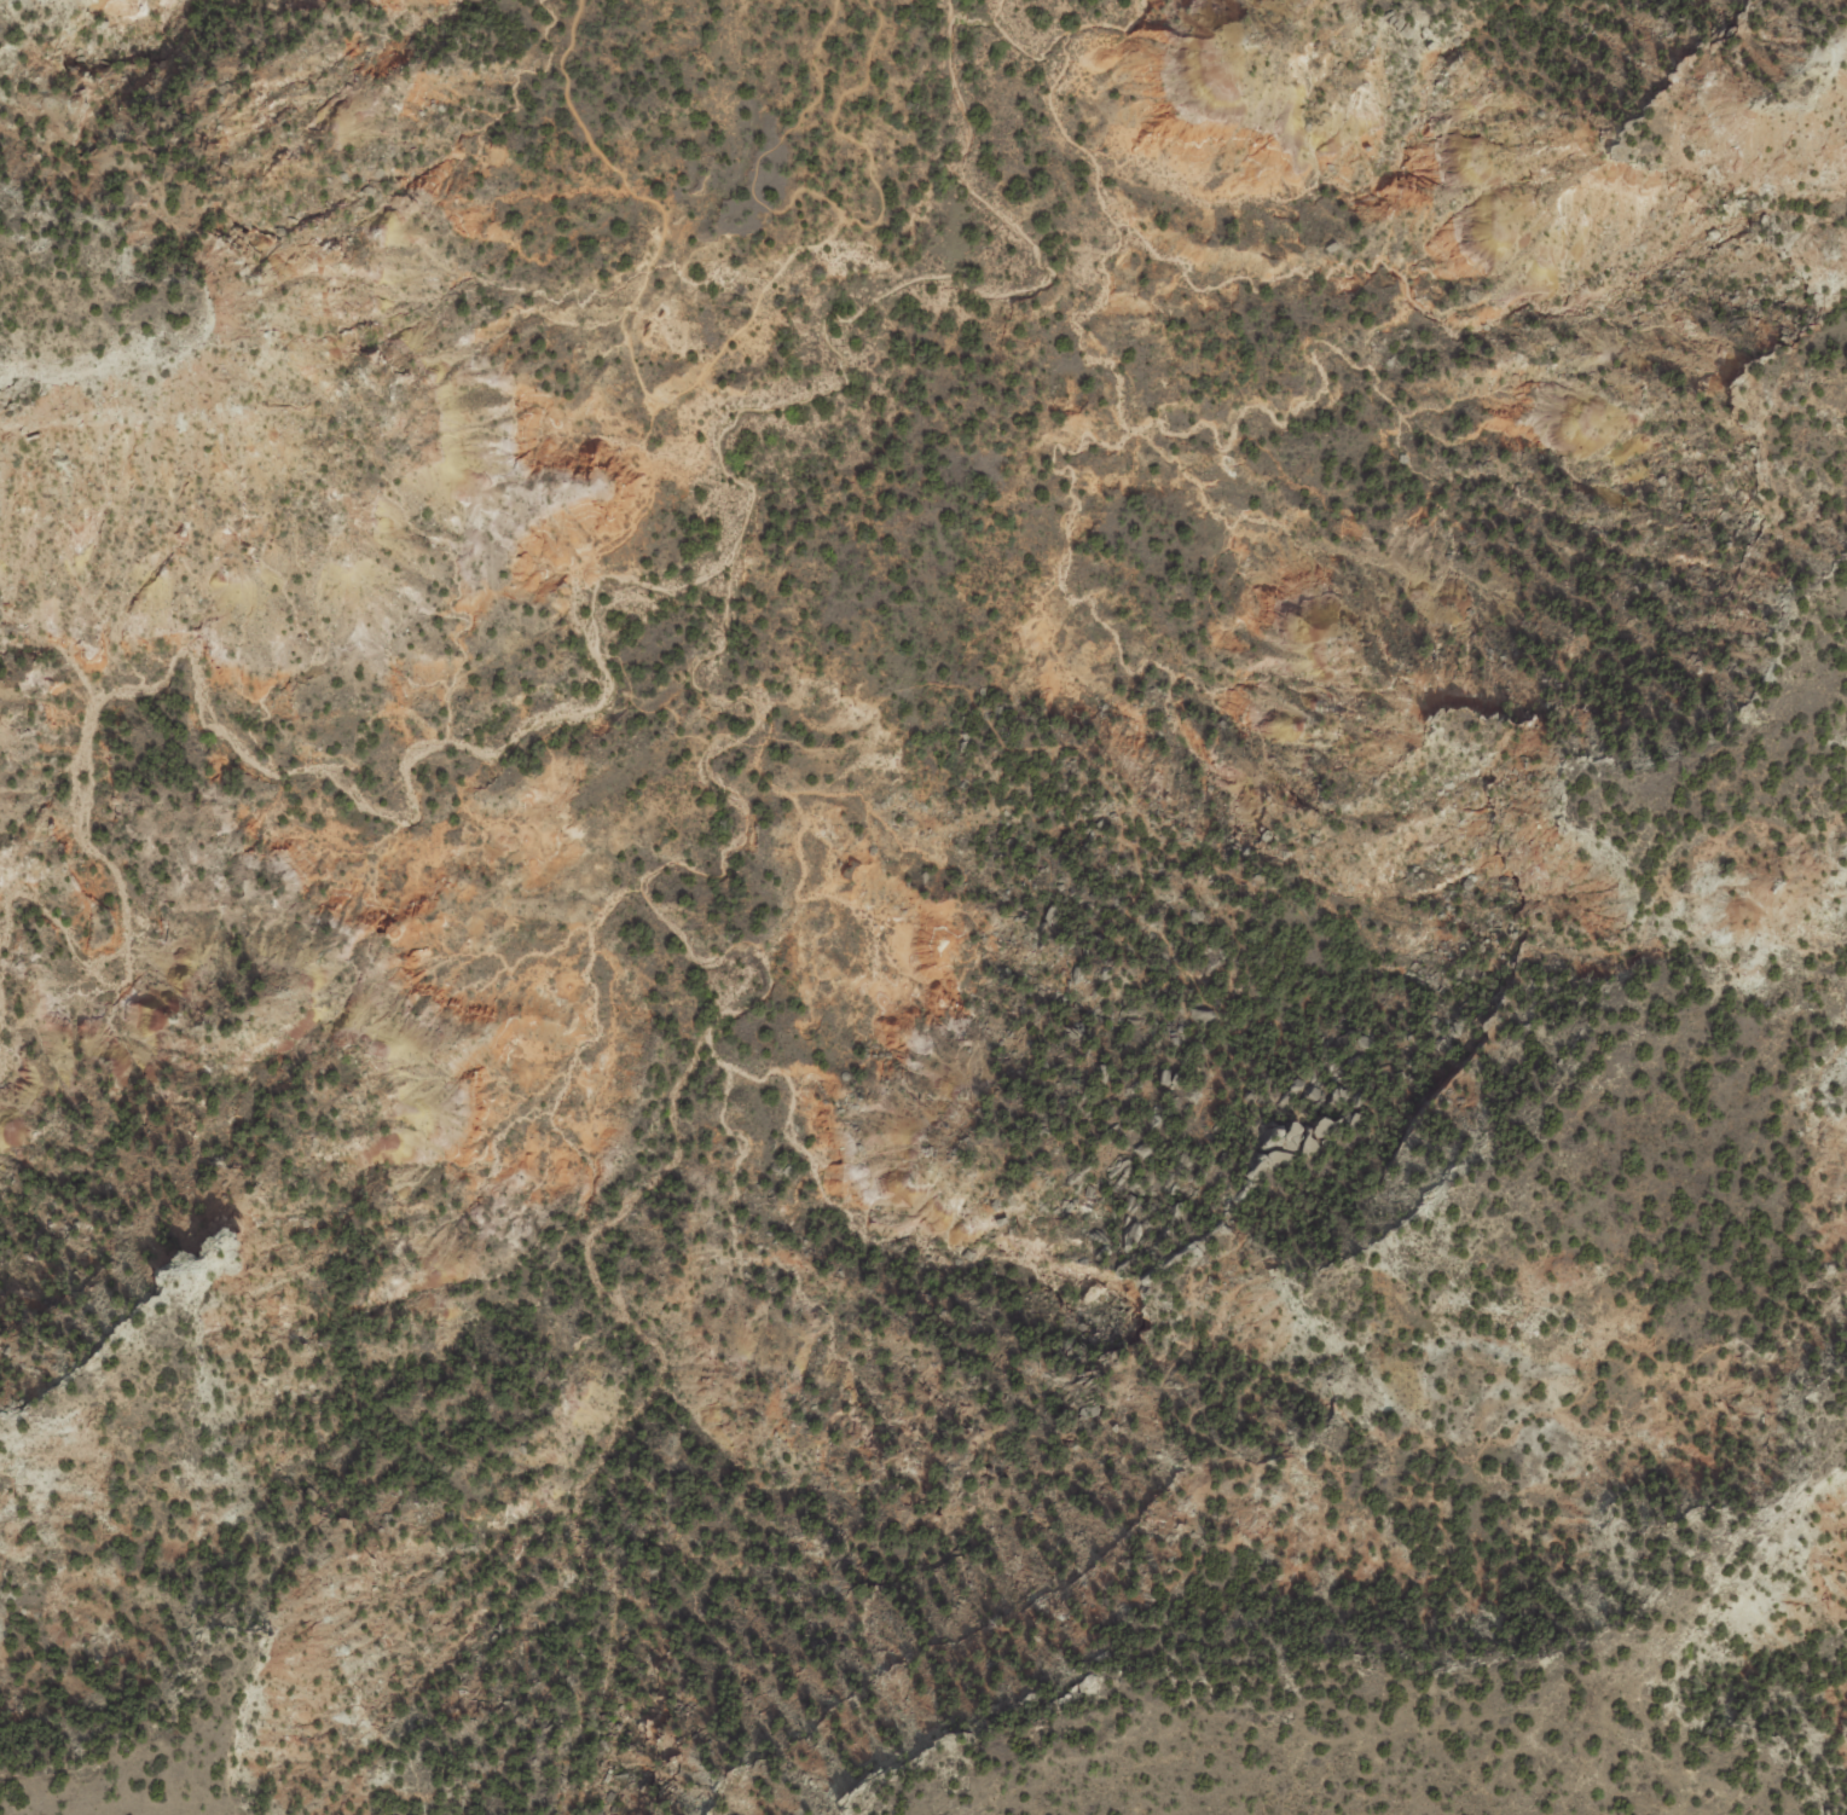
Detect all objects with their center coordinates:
road: (774, 146)
road: (694, 381)

